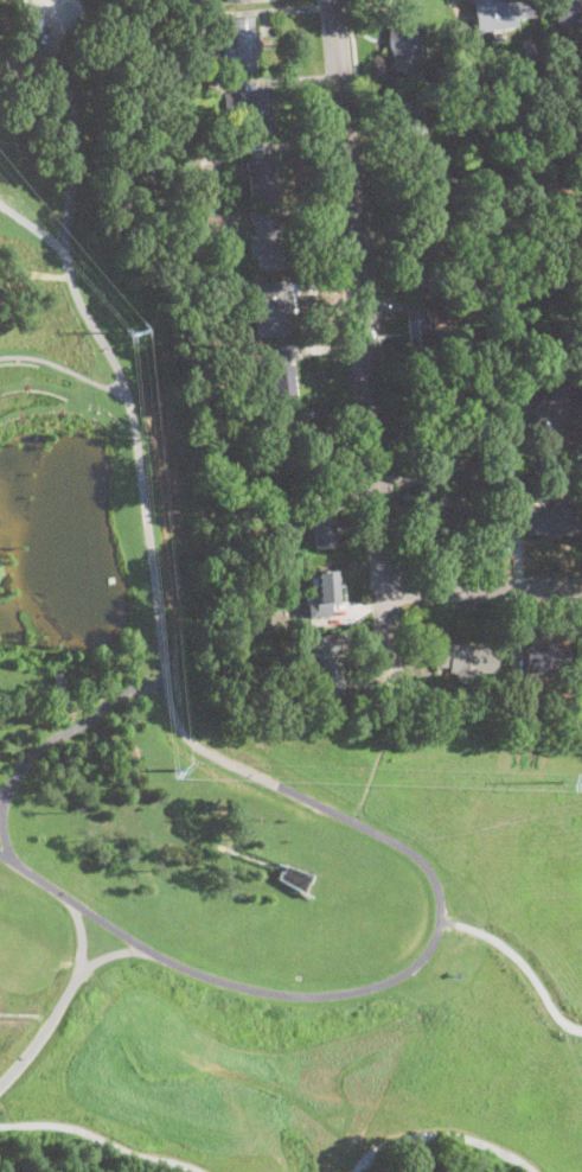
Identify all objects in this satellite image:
building: (222, 0)
building: (234, 0)
building: (190, 1)
building: (567, 11)
building: (501, 12)
building: (207, 25)
road: (47, 33)
building: (243, 44)
building: (403, 45)
building: (557, 66)
building: (435, 98)
building: (250, 113)
building: (412, 128)
building: (198, 179)
building: (260, 179)
building: (417, 197)
building: (215, 225)
road: (33, 228)
building: (266, 242)
building: (418, 267)
building: (222, 284)
road: (373, 285)
building: (275, 314)
building: (418, 329)
power tower: (126, 332)
road: (104, 345)
building: (257, 353)
road: (364, 355)
road: (63, 367)
building: (279, 374)
building: (556, 421)
building: (271, 447)
building: (225, 461)
building: (469, 474)
building: (517, 478)
building: (543, 518)
building: (458, 522)
building: (322, 530)
road: (487, 577)
road: (482, 590)
building: (324, 594)
building: (254, 623)
building: (466, 657)
building: (545, 660)
building: (328, 663)
road: (51, 694)
building: (565, 714)
road: (77, 726)
park: (223, 738)
road: (371, 765)
power tower: (168, 772)
power tower: (559, 784)
road: (2, 794)
road: (4, 827)
road: (36, 877)
building: (294, 878)
road: (439, 894)
road: (109, 925)
road: (81, 935)
road: (113, 955)
road: (520, 962)
road: (45, 1031)
road: (442, 1130)
road: (101, 1139)

